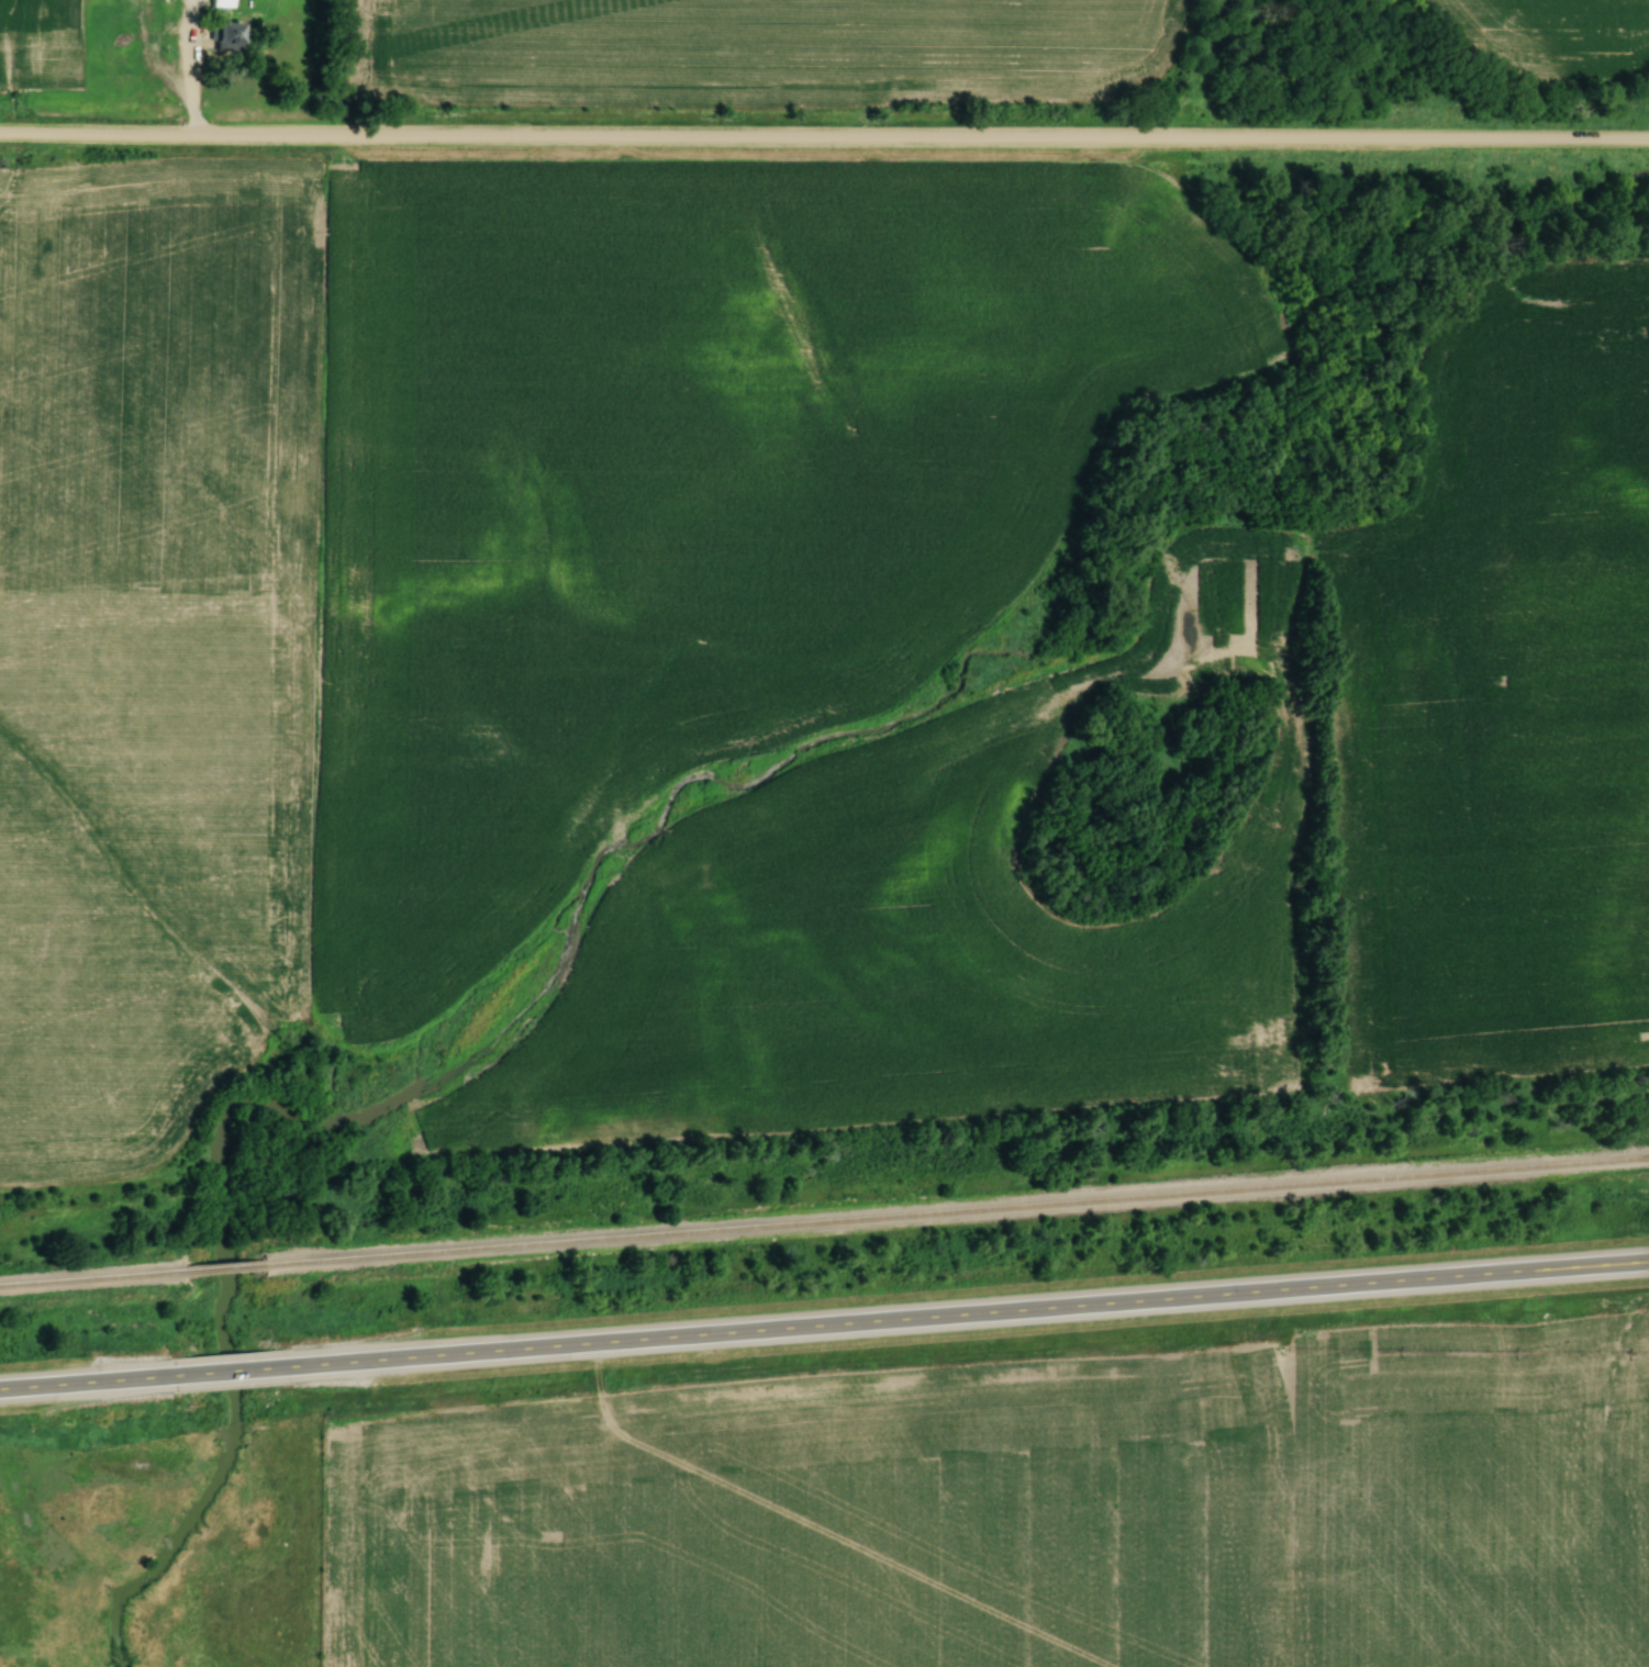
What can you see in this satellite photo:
building: (224, 3)
building: (236, 36)
road: (193, 67)
road: (824, 139)
railway: (958, 1219)
railway: (226, 1268)
railway: (92, 1279)
road: (977, 1314)
road: (239, 1372)
road: (87, 1383)

